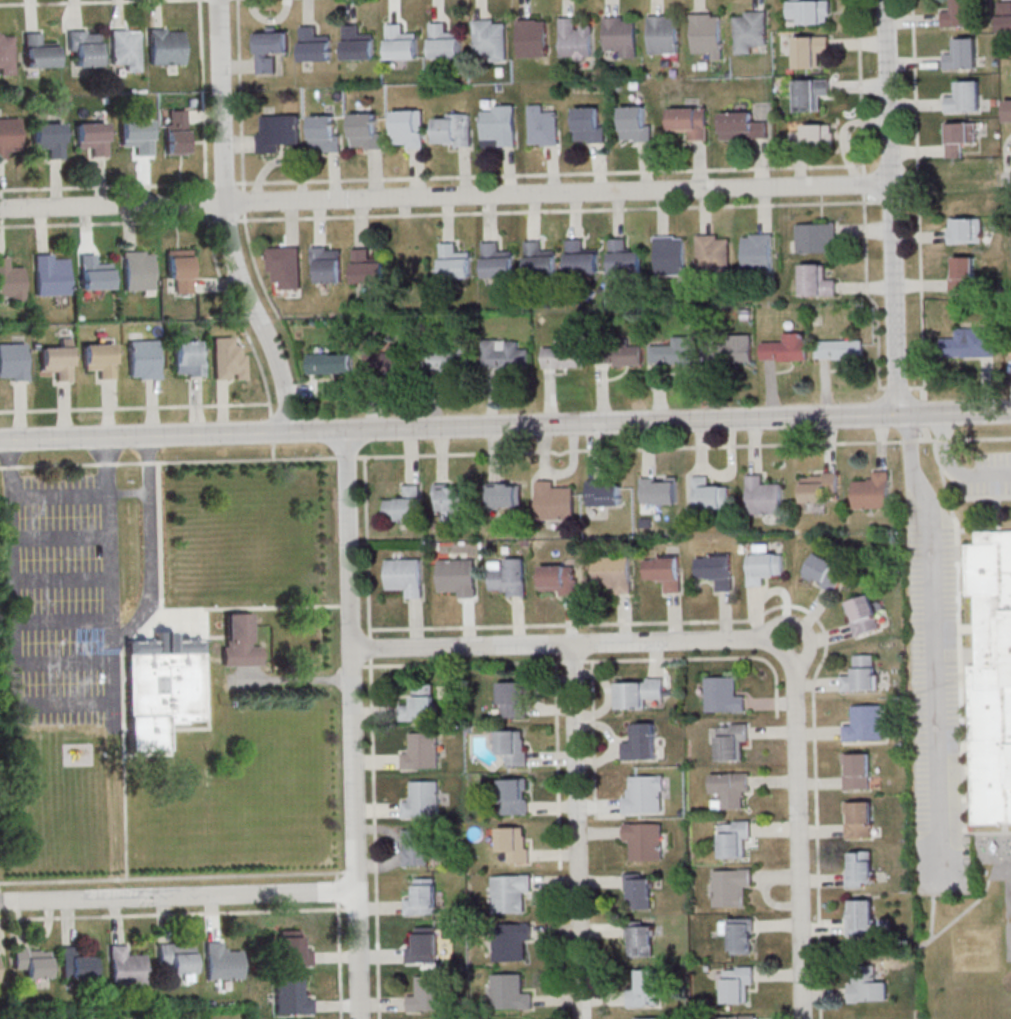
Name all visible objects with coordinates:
road: (81, 2)
building: (810, 11)
building: (960, 13)
building: (1005, 16)
building: (749, 31)
building: (706, 34)
building: (662, 35)
building: (620, 36)
building: (533, 38)
building: (491, 39)
building: (573, 40)
building: (444, 43)
building: (400, 44)
building: (357, 45)
building: (166, 46)
building: (271, 47)
building: (314, 47)
building: (83, 48)
building: (126, 49)
building: (810, 50)
building: (7, 53)
building: (38, 53)
building: (962, 54)
road: (887, 92)
building: (812, 93)
building: (964, 97)
building: (1008, 111)
building: (690, 121)
building: (635, 125)
building: (543, 126)
building: (589, 126)
building: (743, 126)
building: (499, 127)
building: (453, 130)
building: (407, 131)
building: (176, 132)
building: (278, 132)
building: (365, 132)
building: (324, 135)
building: (816, 135)
building: (9, 136)
building: (136, 137)
building: (959, 137)
building: (48, 140)
building: (92, 140)
road: (242, 164)
road: (430, 177)
road: (1008, 180)
road: (444, 195)
road: (863, 198)
road: (919, 198)
road: (552, 210)
road: (533, 217)
road: (226, 220)
road: (121, 223)
building: (966, 230)
road: (209, 235)
building: (817, 237)
building: (758, 252)
building: (712, 253)
building: (671, 255)
building: (625, 259)
building: (540, 261)
building: (582, 262)
building: (454, 263)
building: (496, 263)
building: (327, 264)
building: (286, 267)
building: (180, 269)
building: (367, 269)
building: (136, 272)
building: (963, 274)
building: (93, 275)
building: (49, 276)
building: (10, 280)
building: (817, 280)
road: (894, 299)
building: (970, 343)
building: (734, 348)
building: (787, 348)
building: (840, 349)
building: (673, 353)
building: (505, 354)
building: (565, 355)
building: (628, 355)
building: (188, 357)
building: (99, 359)
building: (143, 359)
building: (228, 359)
building: (445, 359)
building: (388, 360)
building: (58, 361)
building: (13, 362)
building: (330, 363)
road: (898, 387)
road: (917, 387)
road: (925, 406)
road: (134, 407)
road: (505, 427)
road: (506, 452)
road: (107, 465)
road: (12, 467)
road: (953, 468)
building: (819, 486)
building: (660, 490)
building: (874, 491)
building: (605, 492)
building: (506, 494)
building: (710, 494)
road: (60, 495)
building: (765, 496)
building: (449, 497)
building: (555, 501)
building: (404, 508)
road: (152, 551)
building: (764, 564)
building: (715, 570)
building: (663, 572)
building: (825, 572)
building: (611, 574)
building: (405, 576)
building: (457, 577)
building: (507, 577)
building: (558, 580)
building: (863, 615)
road: (800, 625)
road: (368, 637)
building: (240, 641)
road: (567, 644)
road: (933, 646)
road: (560, 661)
building: (862, 674)
building: (985, 674)
road: (291, 682)
building: (166, 685)
building: (638, 692)
building: (724, 695)
building: (511, 699)
road: (62, 703)
building: (422, 703)
building: (865, 723)
road: (353, 725)
building: (642, 741)
building: (732, 741)
building: (513, 746)
building: (422, 752)
building: (856, 770)
building: (730, 790)
building: (643, 793)
building: (514, 796)
building: (422, 800)
building: (858, 819)
road: (576, 831)
road: (798, 832)
building: (735, 839)
building: (644, 840)
building: (514, 843)
building: (415, 847)
building: (860, 868)
building: (730, 886)
building: (639, 890)
building: (509, 892)
building: (422, 897)
road: (178, 898)
building: (861, 916)
building: (740, 935)
building: (642, 939)
building: (511, 940)
building: (424, 946)
building: (292, 949)
building: (178, 959)
building: (32, 961)
building: (222, 962)
building: (77, 965)
building: (0, 966)
building: (125, 967)
building: (737, 984)
building: (647, 988)
building: (867, 988)
building: (510, 992)
building: (429, 994)
building: (292, 997)
building: (735, 1017)
building: (652, 1018)

